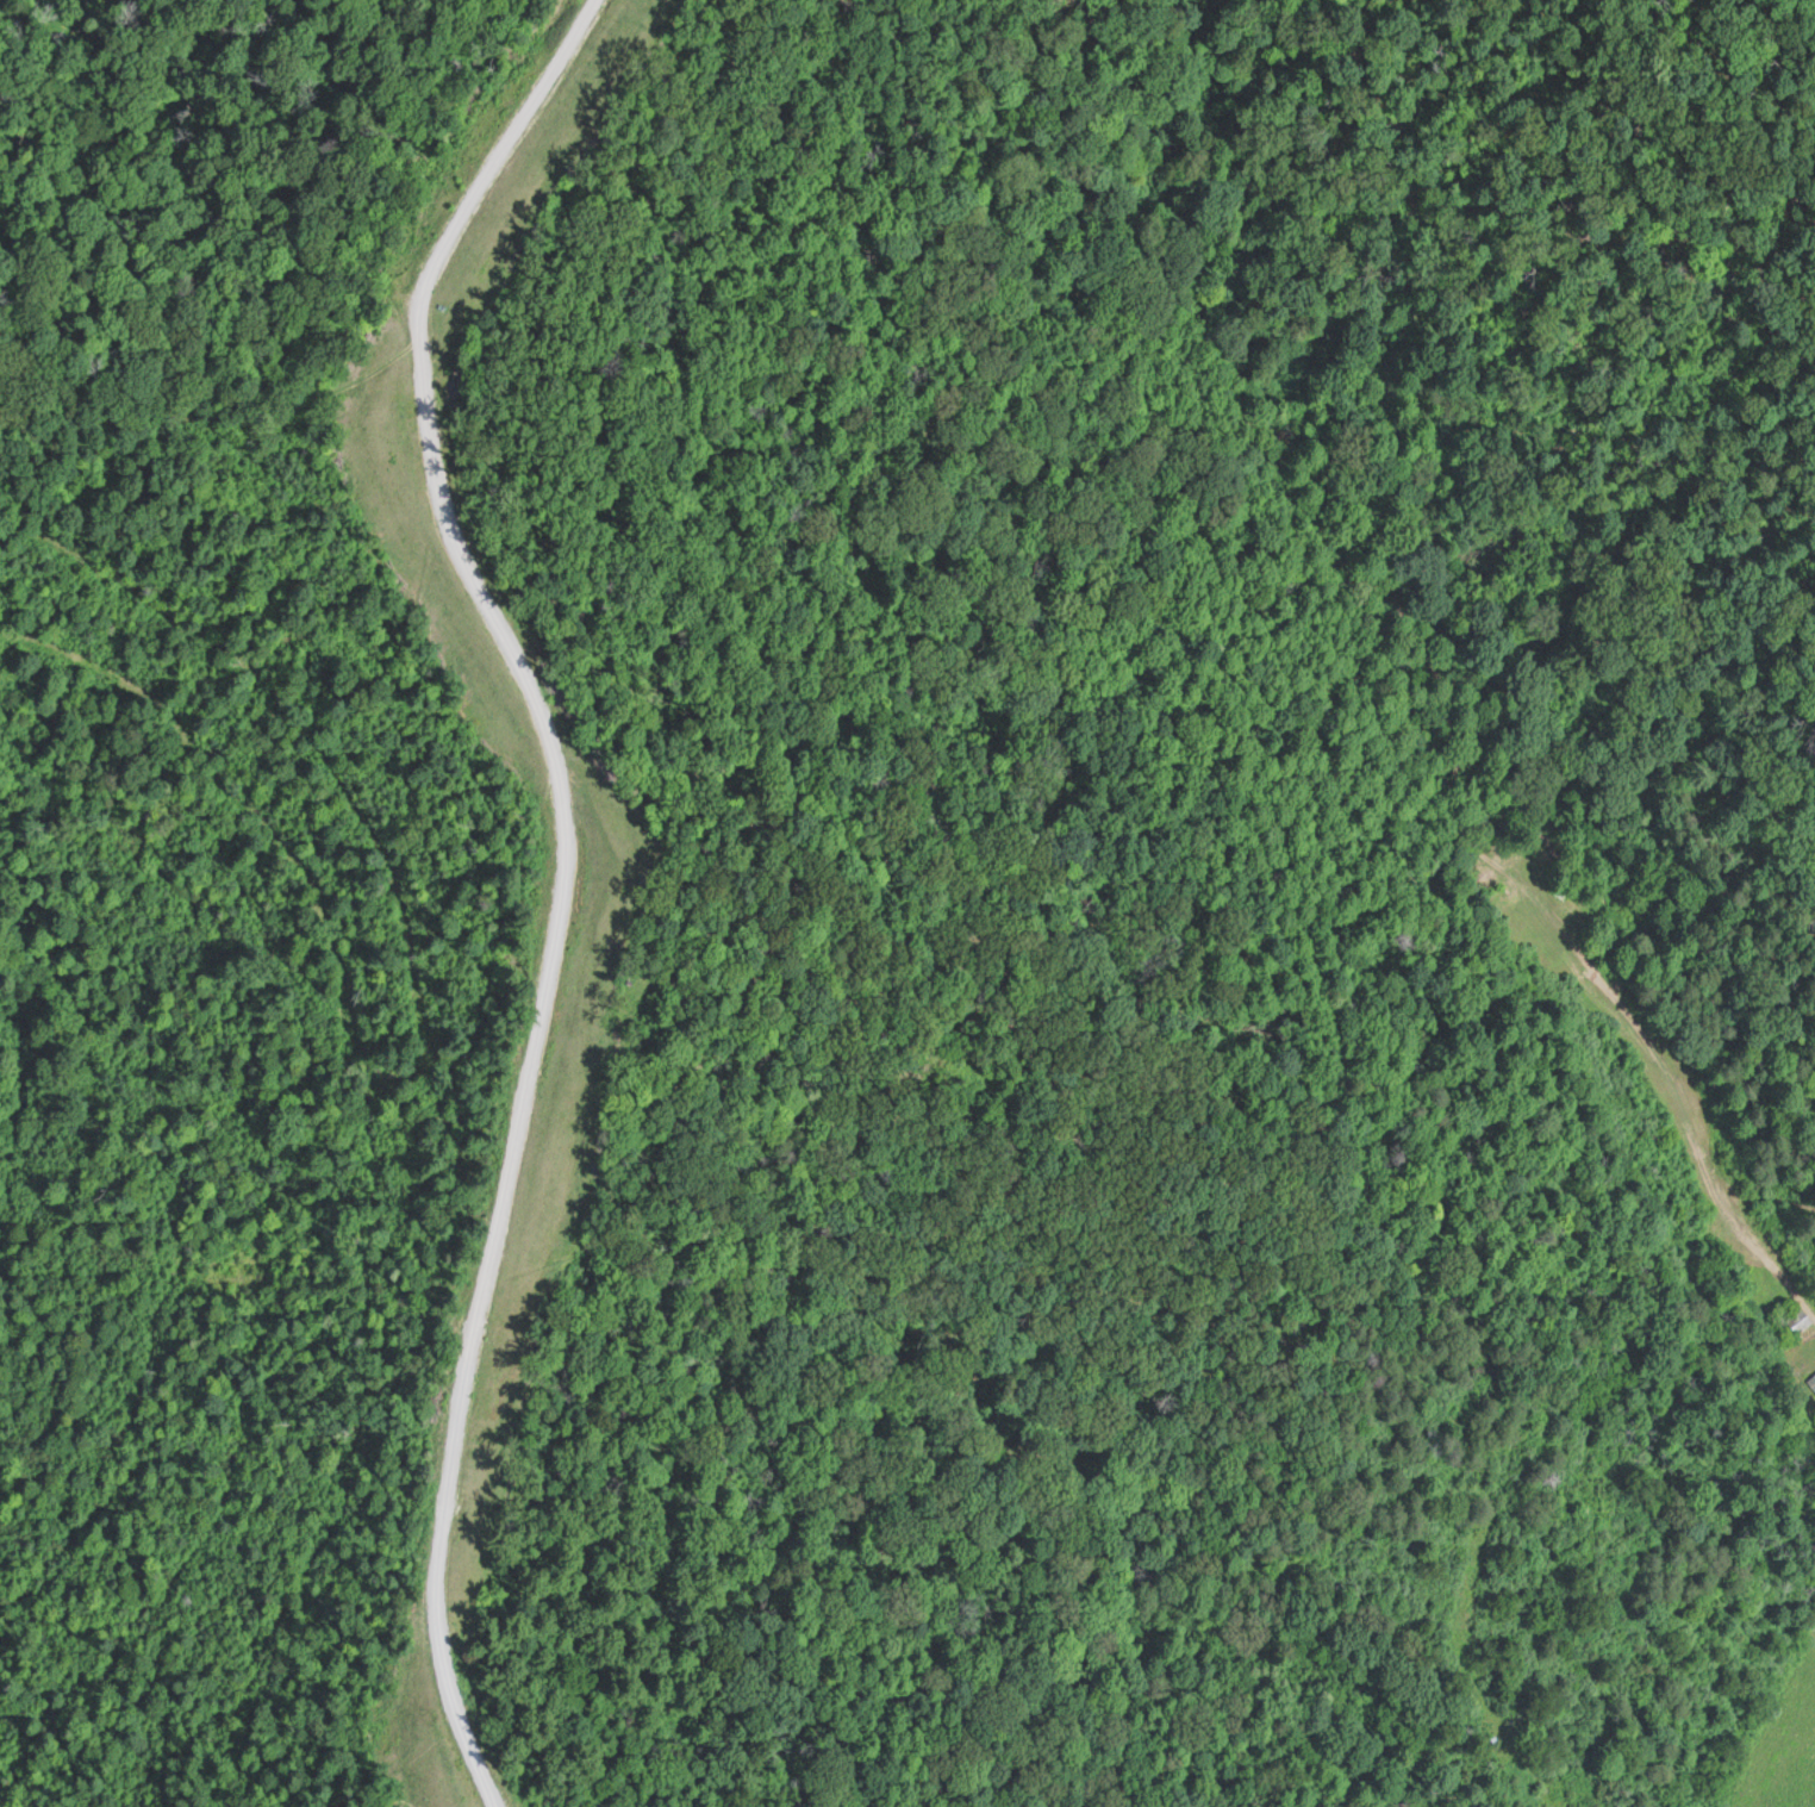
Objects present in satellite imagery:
building: (1801, 1321)
building: (1811, 1377)

